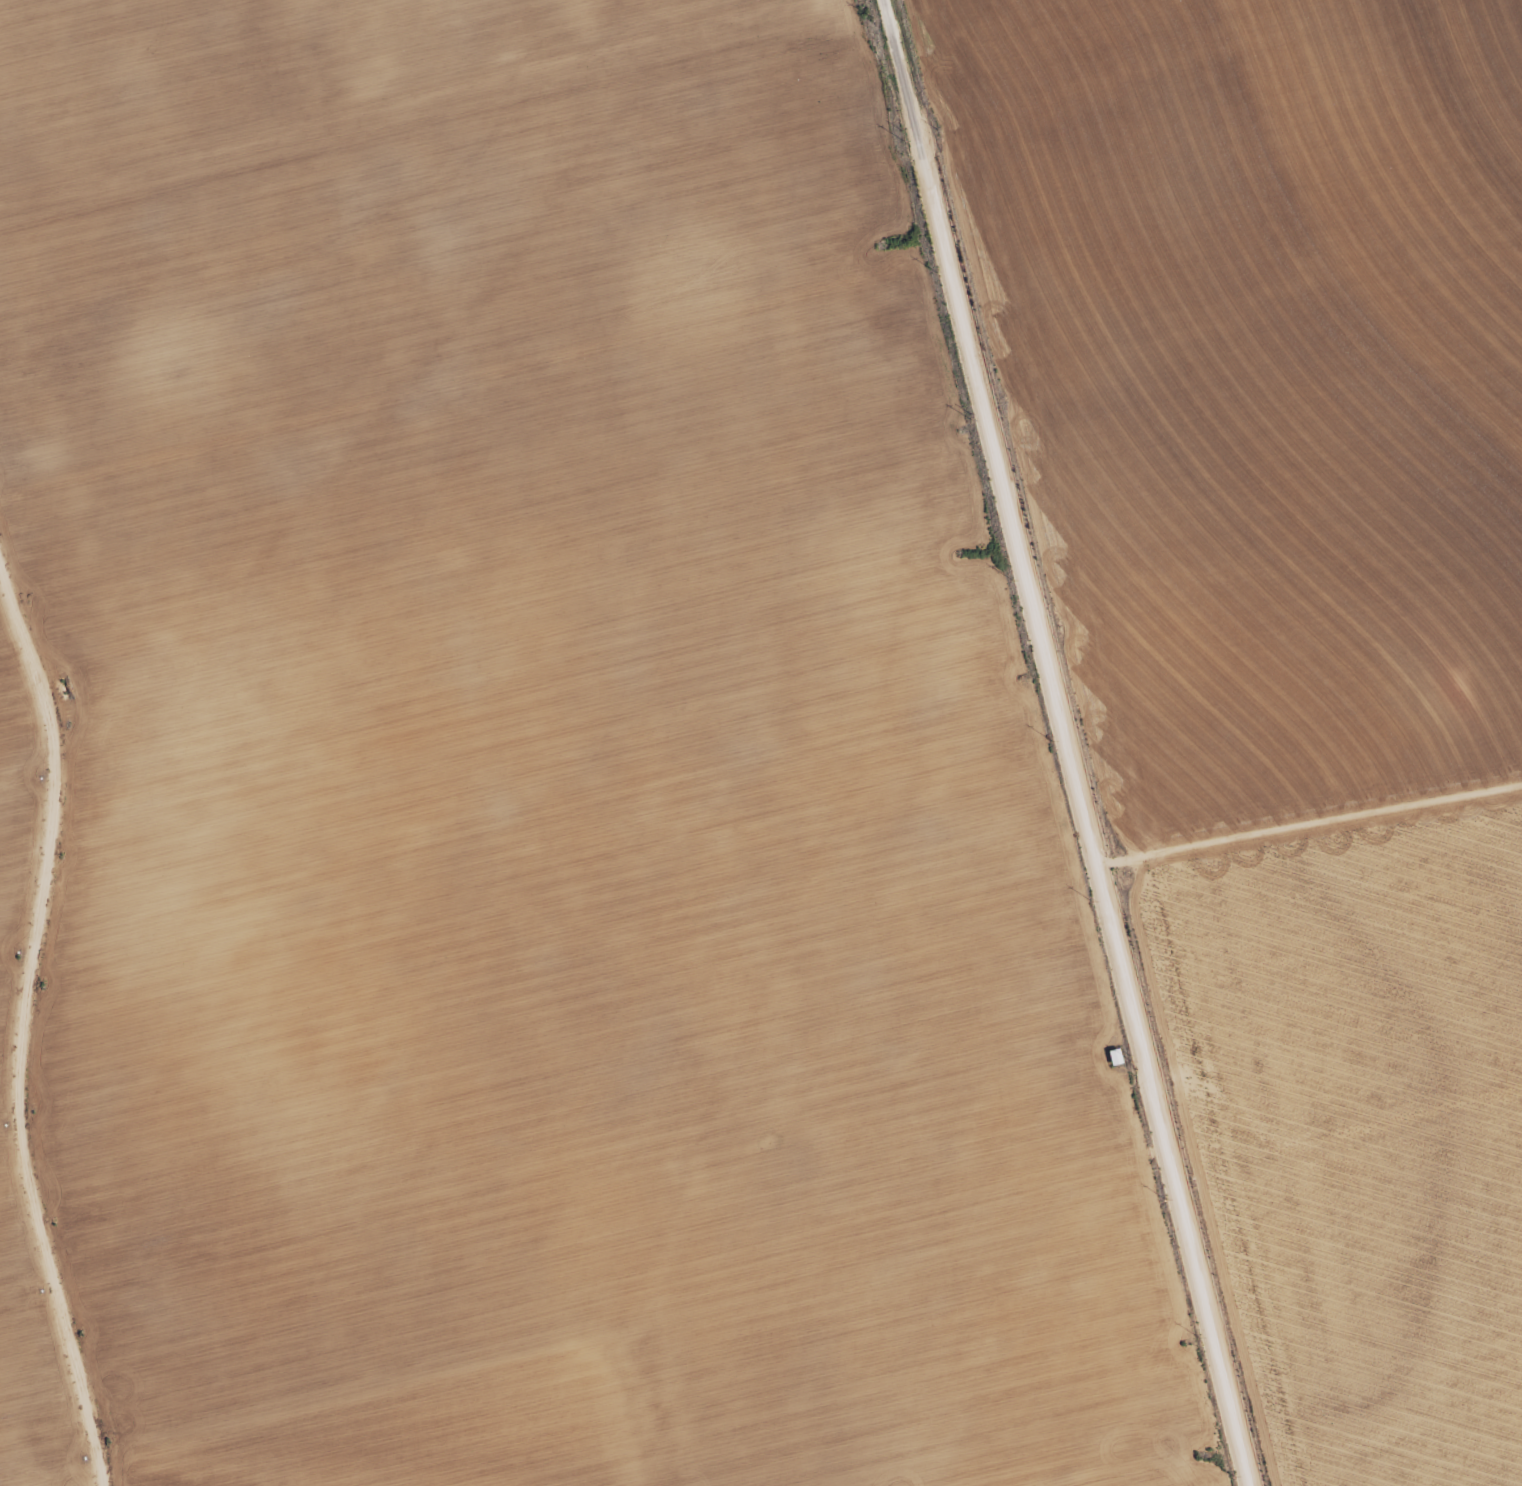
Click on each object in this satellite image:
road: (1062, 743)

